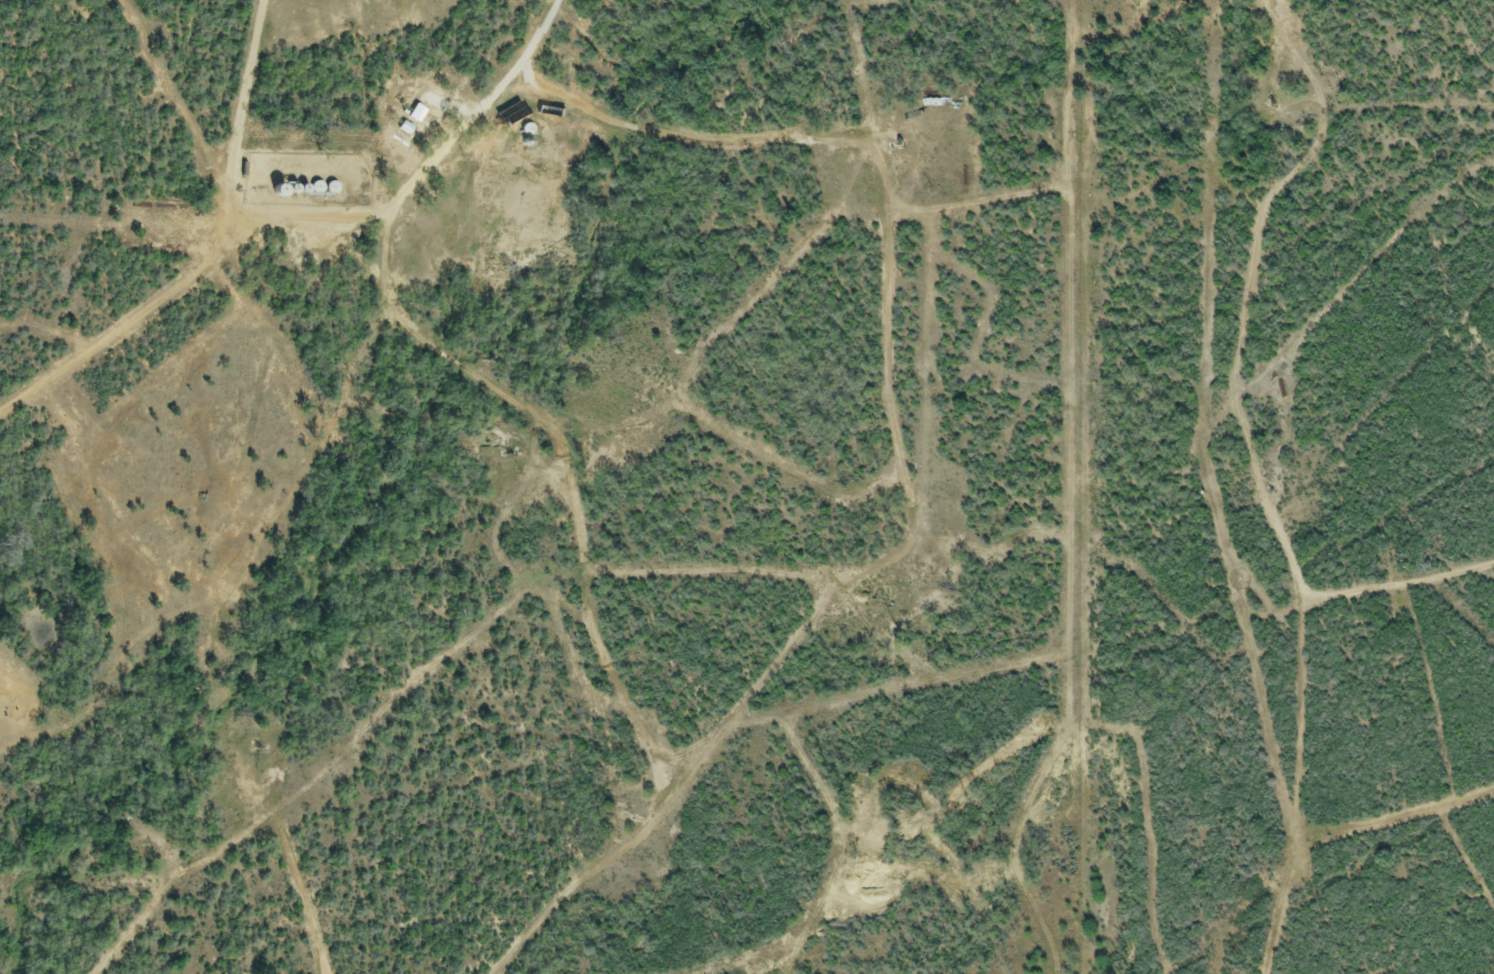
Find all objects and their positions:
road: (614, 125)
road: (387, 203)

